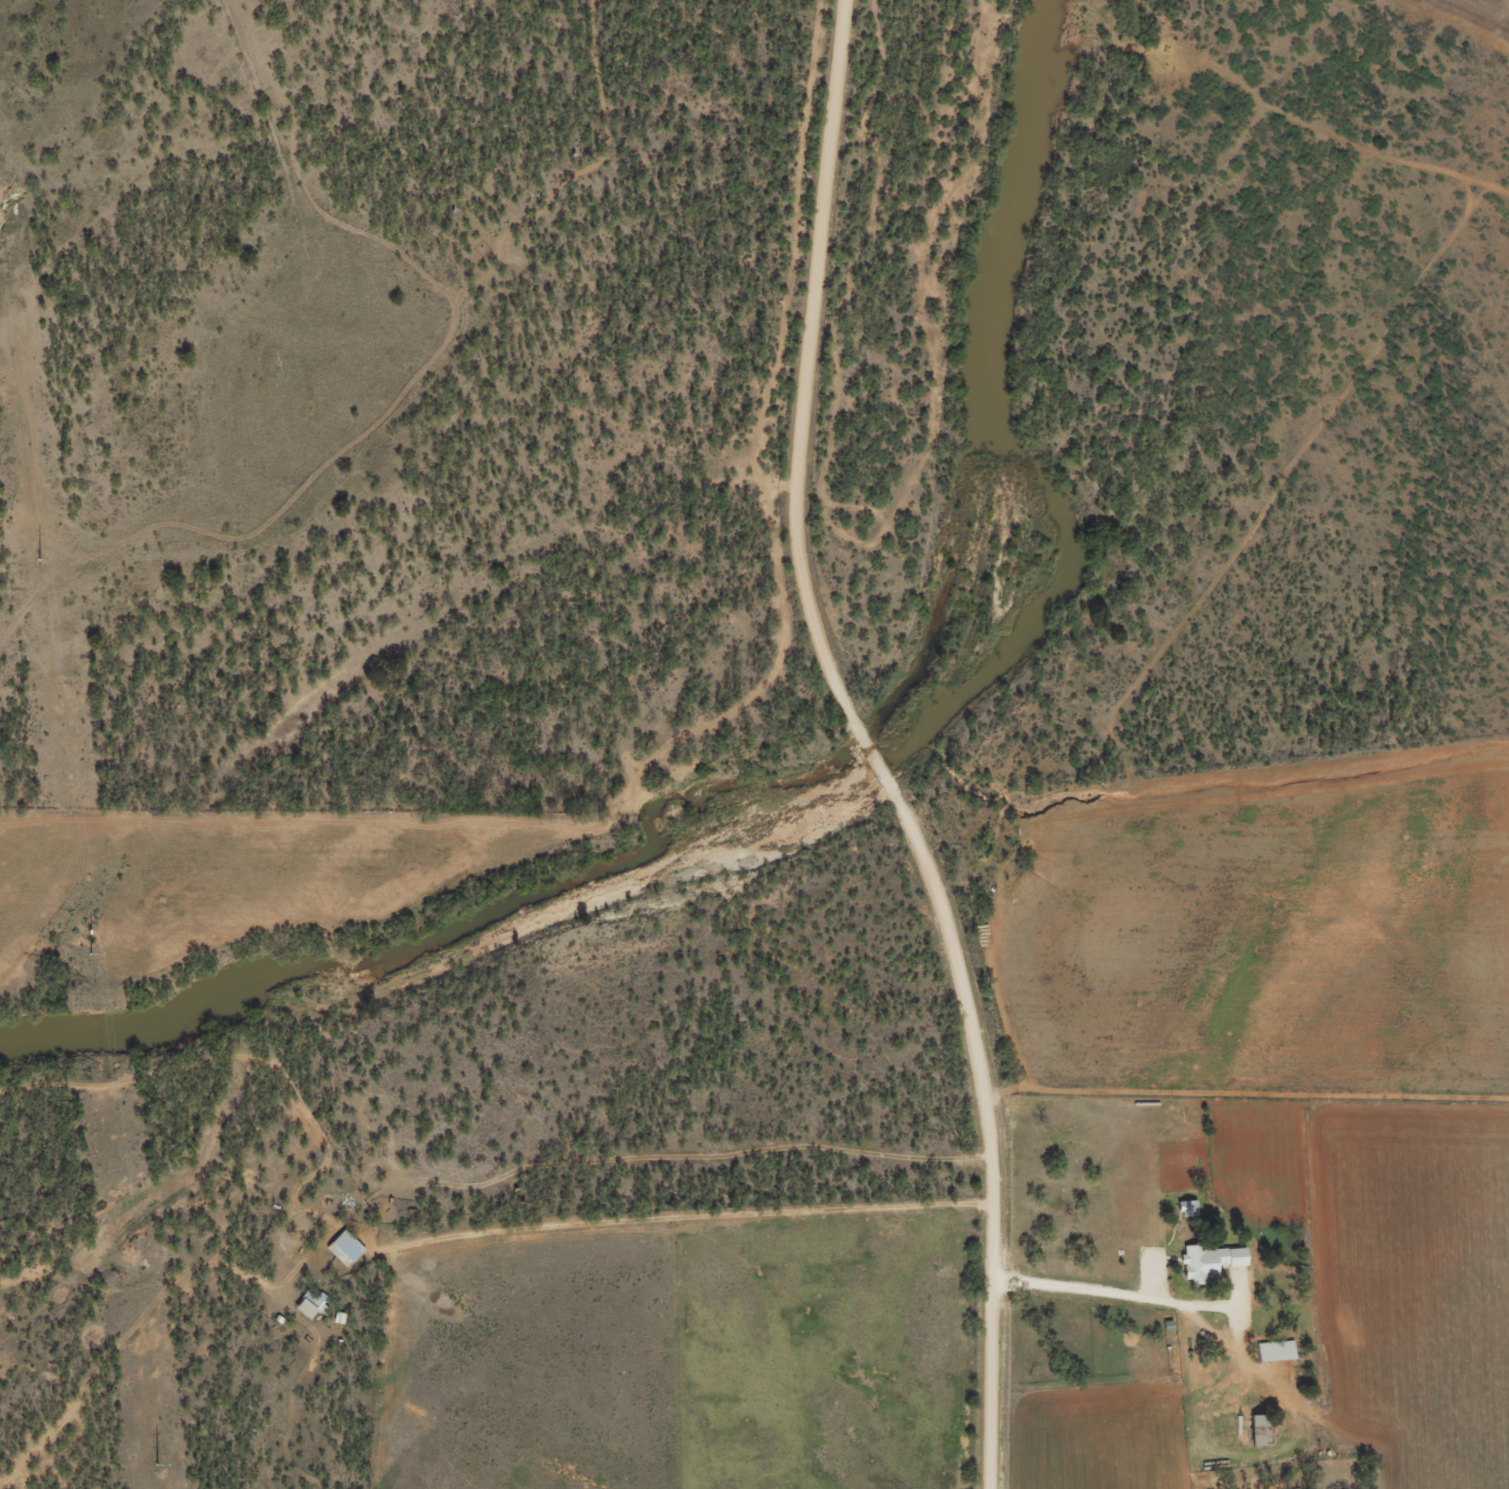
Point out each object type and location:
road: (792, 377)
power tower: (40, 556)
road: (867, 750)
power tower: (91, 951)
road: (963, 1112)
road: (652, 1160)
road: (578, 1204)
building: (1191, 1208)
building: (349, 1246)
building: (1213, 1261)
building: (314, 1302)
building: (1279, 1350)
power tower: (157, 1464)

